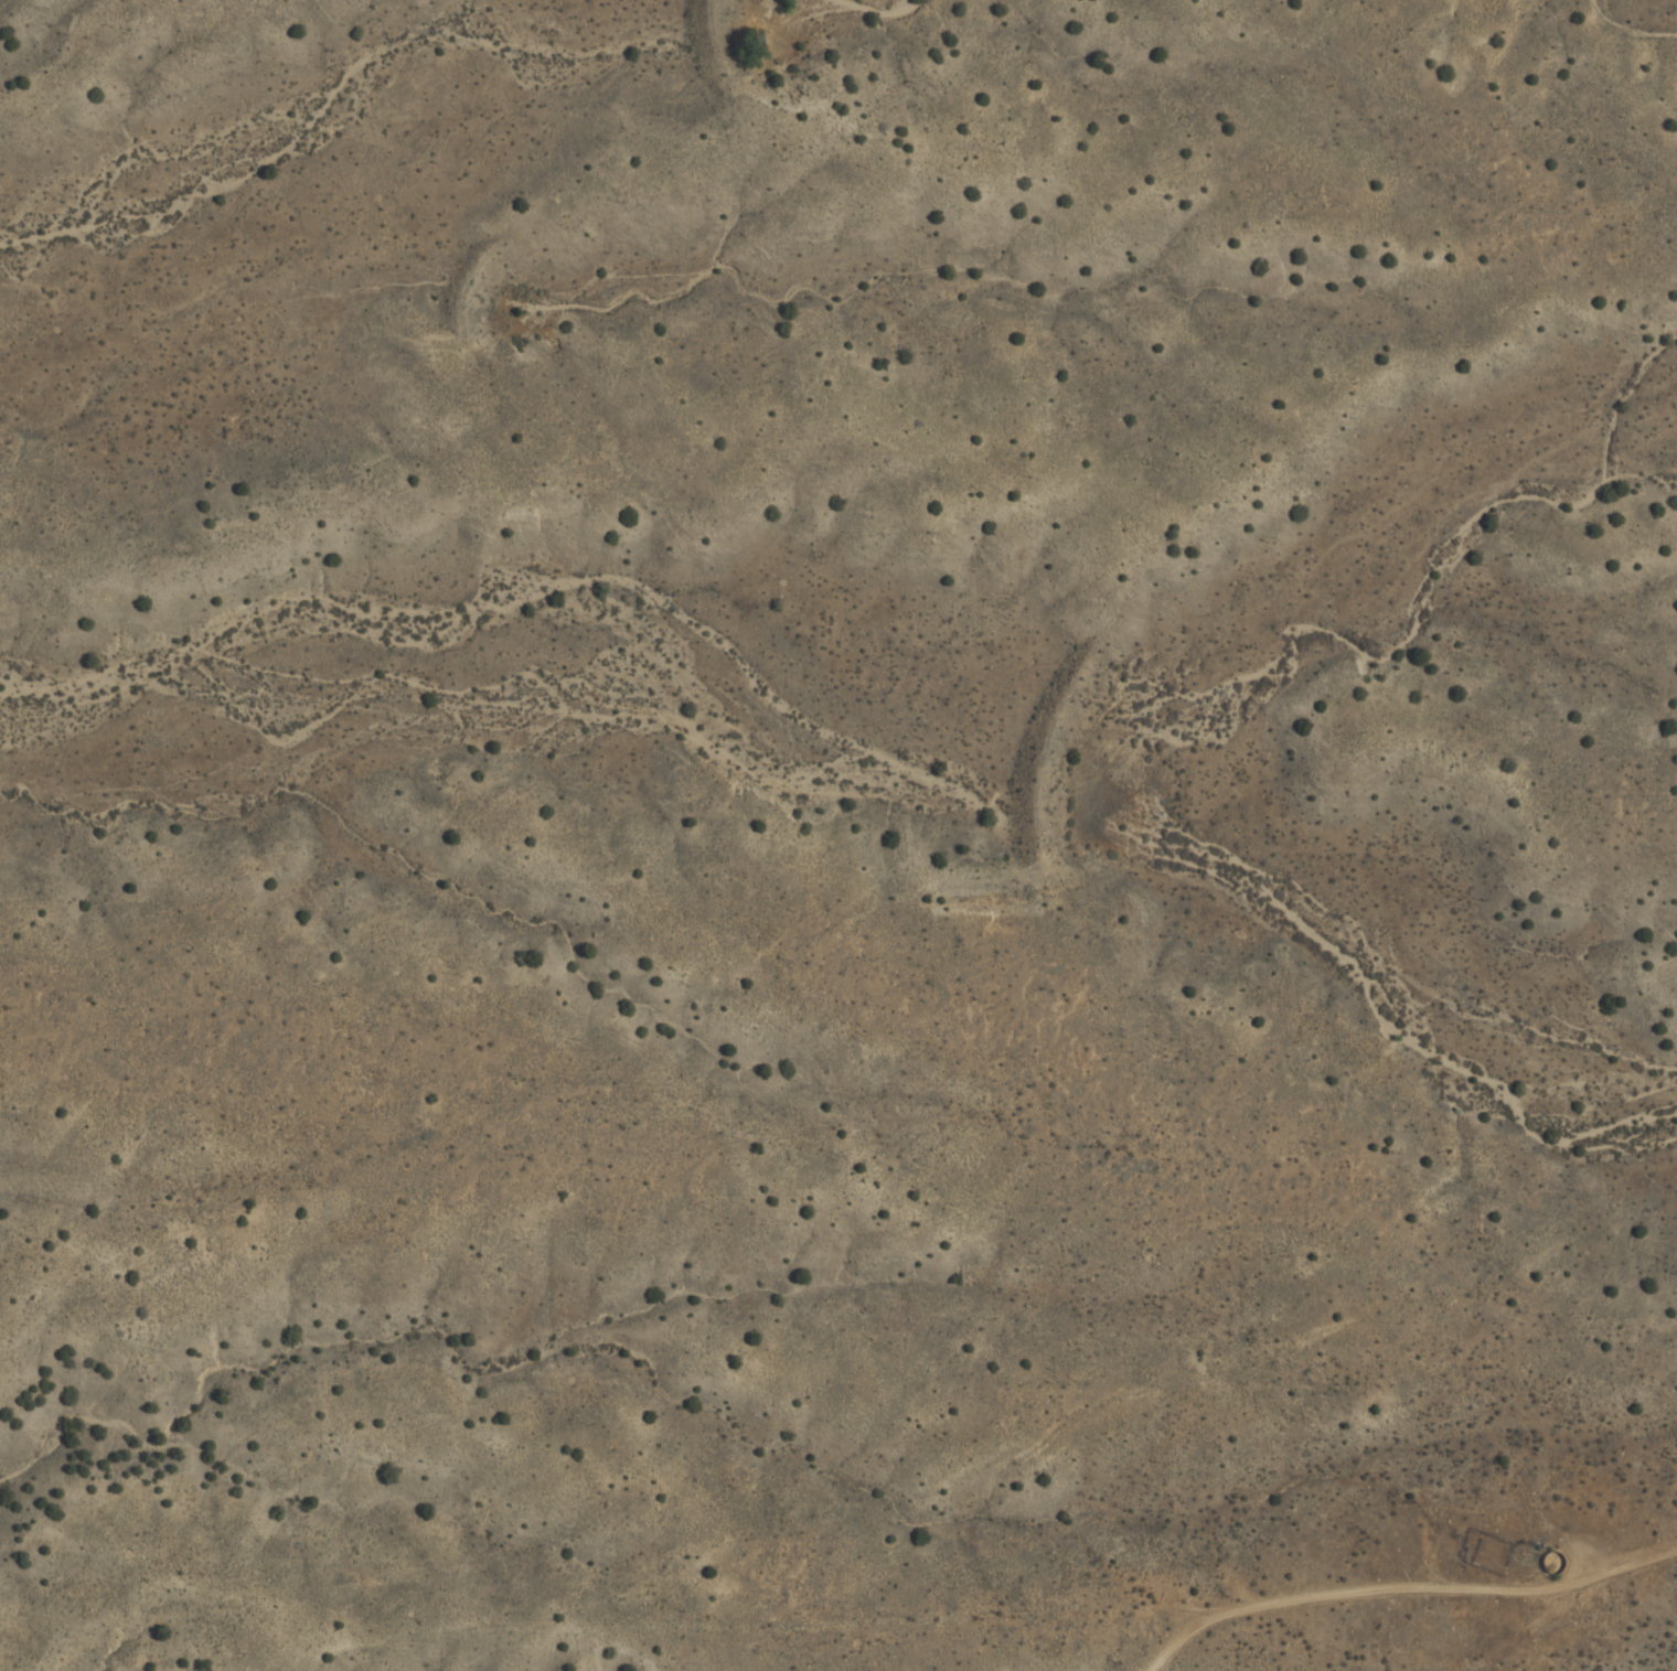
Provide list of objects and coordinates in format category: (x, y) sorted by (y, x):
road: (1406, 1595)

